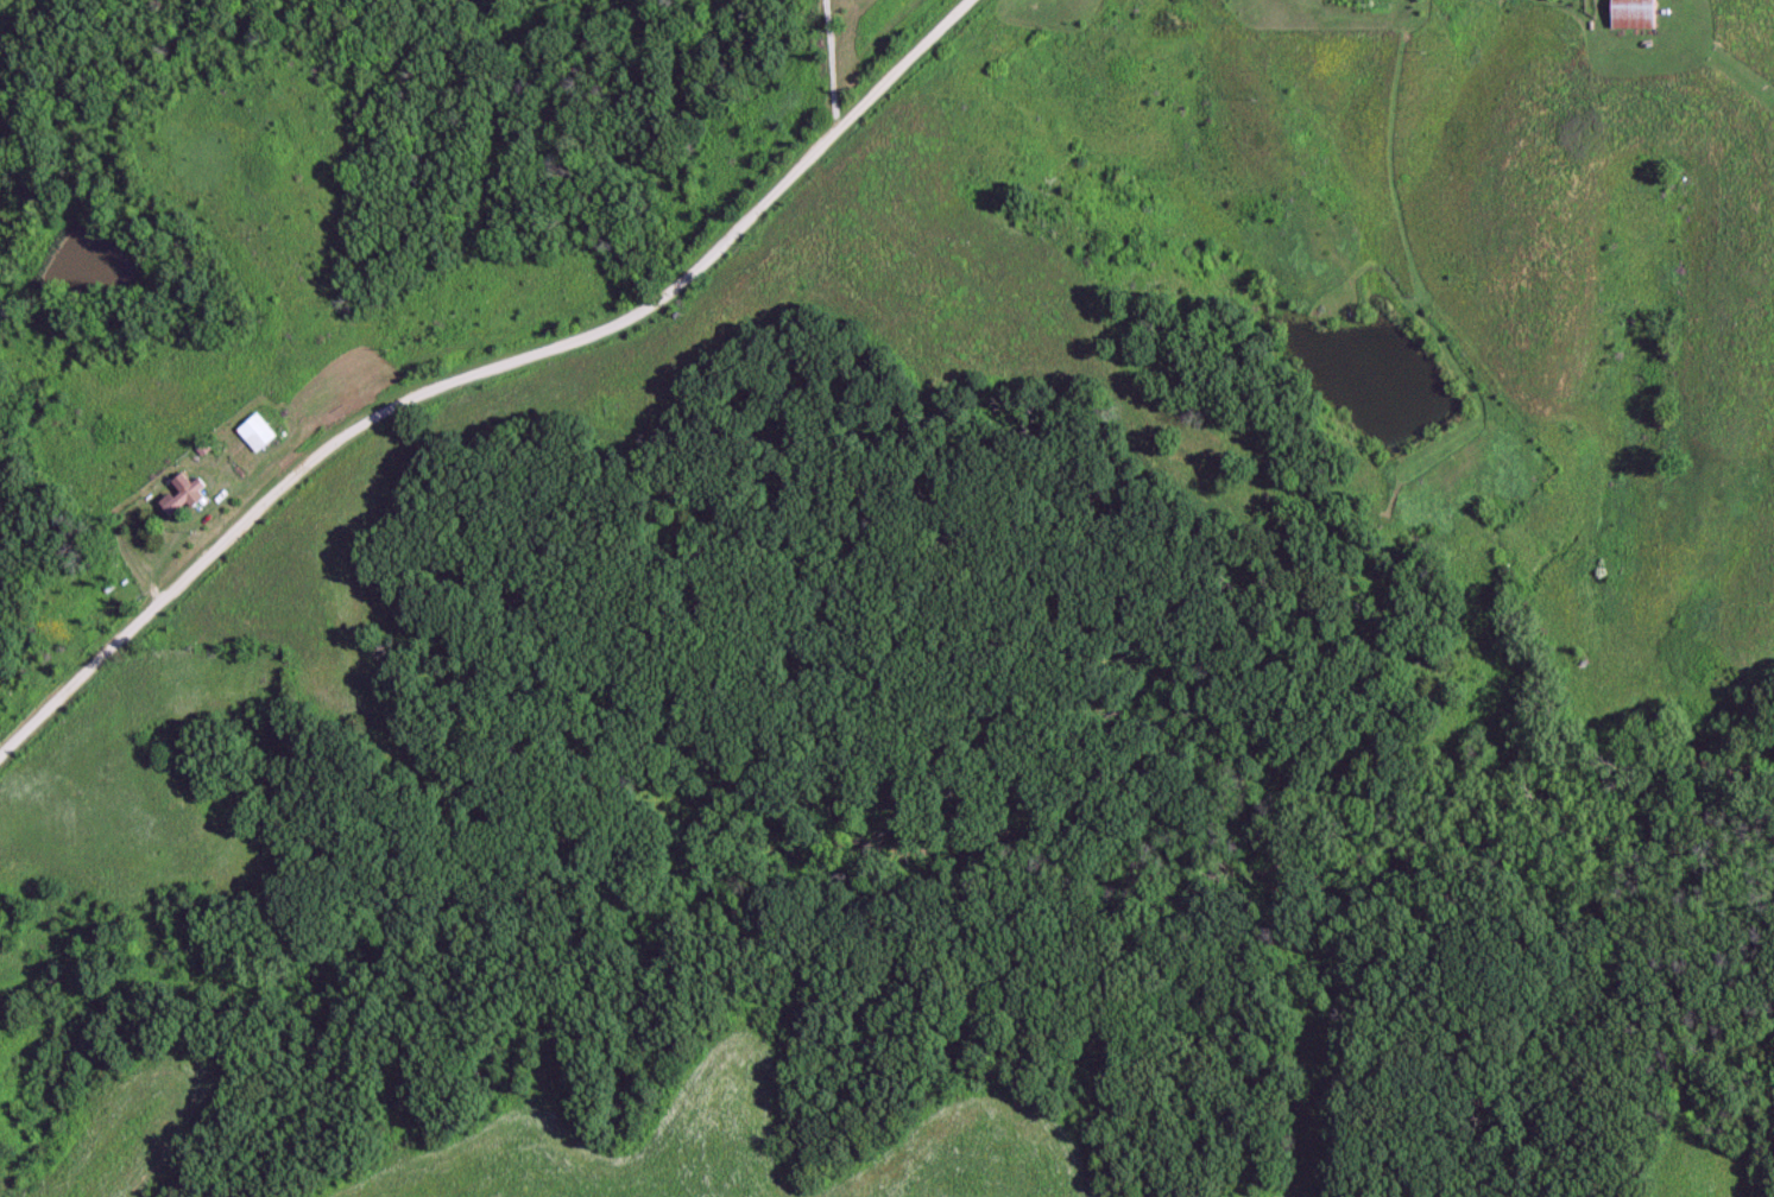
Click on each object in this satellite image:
road: (1684, 11)
building: (1630, 14)
road: (486, 360)
building: (259, 430)
building: (182, 498)

